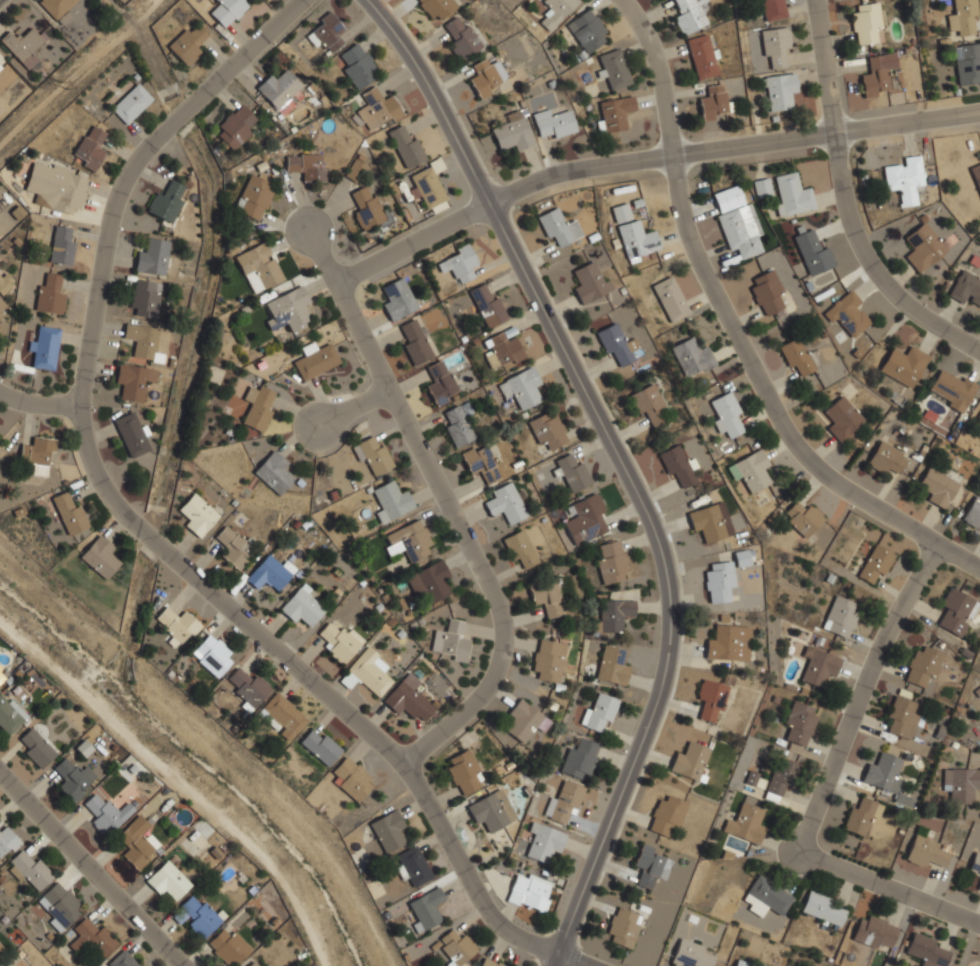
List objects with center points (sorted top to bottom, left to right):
building: (435, 7)
building: (58, 9)
building: (773, 9)
building: (227, 10)
building: (556, 11)
building: (689, 15)
building: (964, 19)
building: (867, 22)
building: (587, 30)
building: (327, 33)
building: (462, 38)
building: (187, 42)
building: (23, 46)
building: (776, 46)
building: (703, 56)
building: (967, 63)
building: (357, 65)
building: (0, 66)
building: (613, 69)
building: (881, 74)
building: (484, 78)
power tower: (64, 86)
building: (779, 89)
building: (278, 90)
building: (131, 103)
building: (714, 103)
building: (377, 106)
building: (615, 113)
building: (553, 123)
building: (234, 127)
building: (513, 132)
building: (406, 146)
building: (89, 148)
road: (645, 155)
building: (306, 166)
building: (356, 170)
building: (976, 174)
building: (905, 179)
building: (56, 186)
building: (429, 186)
building: (762, 187)
building: (792, 195)
building: (254, 197)
building: (728, 198)
road: (853, 198)
building: (167, 202)
building: (368, 209)
building: (621, 212)
building: (558, 227)
building: (739, 231)
building: (638, 239)
building: (61, 245)
building: (923, 247)
building: (813, 252)
building: (152, 257)
building: (260, 264)
building: (458, 264)
building: (4, 282)
building: (590, 282)
building: (966, 288)
building: (767, 291)
building: (49, 295)
building: (144, 298)
building: (670, 298)
building: (397, 299)
building: (1, 304)
building: (487, 304)
building: (287, 309)
building: (847, 313)
road: (737, 328)
building: (414, 341)
building: (141, 342)
building: (618, 344)
building: (44, 347)
building: (502, 349)
building: (692, 356)
building: (797, 356)
building: (315, 359)
building: (904, 365)
building: (133, 380)
building: (440, 383)
building: (521, 387)
building: (953, 389)
building: (649, 404)
road: (38, 406)
building: (259, 406)
road: (354, 407)
building: (726, 414)
building: (842, 417)
building: (978, 420)
building: (457, 426)
building: (547, 431)
building: (131, 434)
building: (372, 453)
building: (38, 455)
building: (886, 458)
building: (480, 463)
road: (623, 465)
building: (677, 465)
building: (751, 470)
building: (273, 472)
building: (571, 472)
building: (938, 487)
building: (391, 501)
building: (506, 503)
road: (450, 505)
building: (69, 512)
building: (973, 513)
building: (197, 514)
building: (585, 519)
building: (804, 520)
building: (711, 521)
road: (144, 533)
building: (409, 540)
building: (234, 548)
building: (520, 550)
building: (99, 556)
building: (741, 557)
building: (611, 563)
building: (875, 563)
building: (269, 573)
building: (719, 580)
building: (429, 581)
building: (547, 597)
building: (302, 605)
building: (955, 612)
building: (614, 614)
building: (842, 616)
building: (177, 624)
building: (450, 640)
building: (339, 642)
building: (728, 643)
building: (213, 655)
building: (548, 659)
building: (612, 666)
building: (818, 666)
building: (0, 667)
building: (924, 668)
building: (367, 672)
building: (1, 674)
building: (0, 678)
building: (247, 687)
building: (977, 691)
building: (408, 698)
building: (711, 699)
building: (599, 711)
building: (11, 715)
building: (281, 716)
building: (522, 720)
building: (911, 721)
building: (799, 722)
building: (319, 746)
building: (35, 747)
building: (580, 758)
building: (690, 761)
building: (464, 774)
building: (888, 775)
building: (775, 777)
building: (352, 778)
building: (73, 779)
building: (961, 783)
road: (823, 791)
building: (564, 804)
building: (490, 810)
building: (105, 812)
building: (666, 815)
building: (859, 817)
building: (746, 824)
building: (388, 830)
building: (7, 842)
building: (543, 842)
building: (136, 843)
building: (927, 852)
building: (975, 864)
building: (412, 866)
building: (651, 866)
road: (91, 869)
building: (30, 871)
building: (168, 879)
building: (979, 887)
building: (529, 892)
building: (765, 898)
building: (59, 906)
building: (822, 908)
building: (426, 910)
building: (200, 914)
building: (623, 927)
building: (875, 932)
building: (92, 936)
building: (0, 946)
building: (228, 947)
building: (457, 947)
building: (926, 951)
building: (691, 954)
building: (122, 959)
building: (488, 962)
building: (253, 963)
building: (744, 963)
building: (9, 964)
building: (974, 965)

